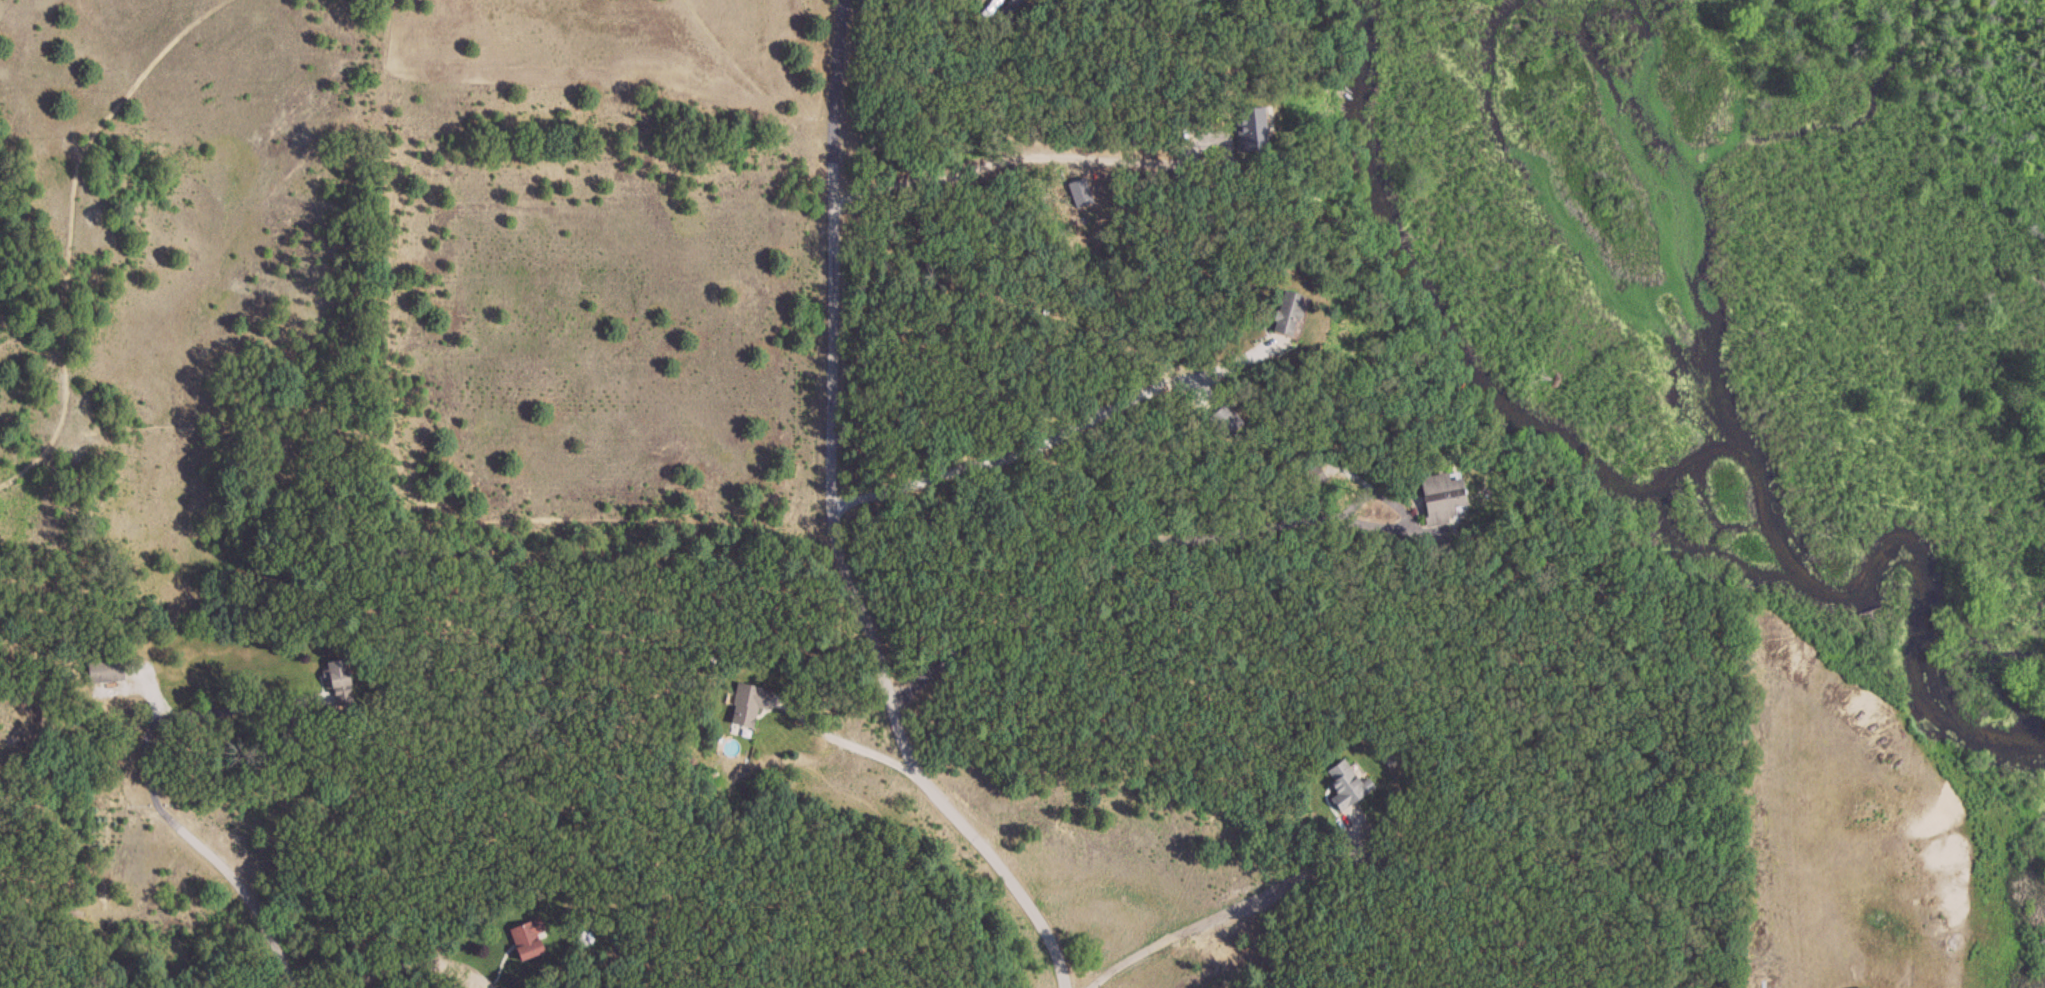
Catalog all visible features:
building: (1247, 129)
road: (1018, 149)
building: (1283, 313)
building: (1225, 420)
road: (1055, 436)
building: (1438, 495)
road: (833, 526)
road: (1170, 537)
building: (110, 671)
building: (341, 681)
building: (751, 705)
road: (847, 743)
building: (1343, 785)
road: (202, 849)
road: (1233, 909)
building: (532, 939)
road: (420, 962)
building: (1862, 987)

